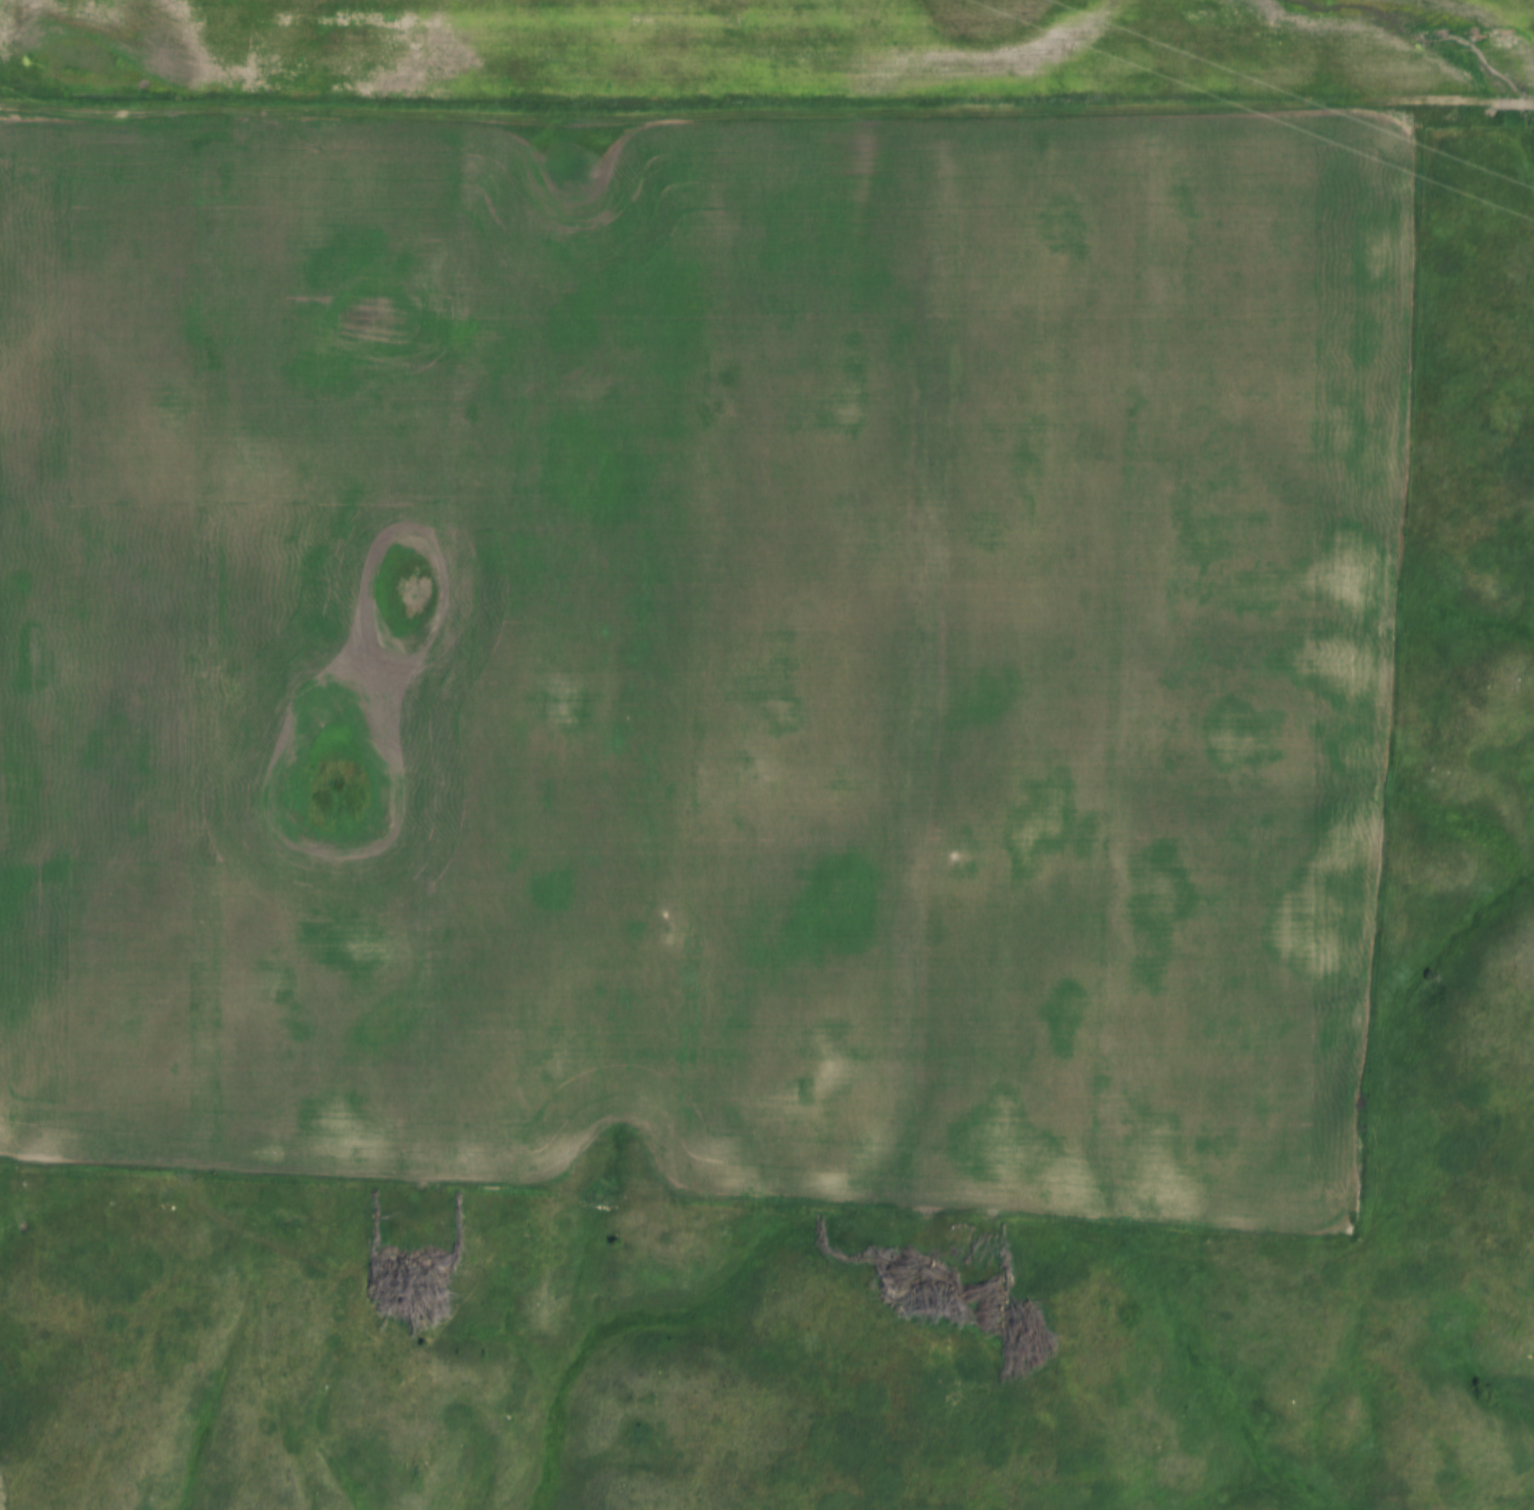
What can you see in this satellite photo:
road: (767, 108)

